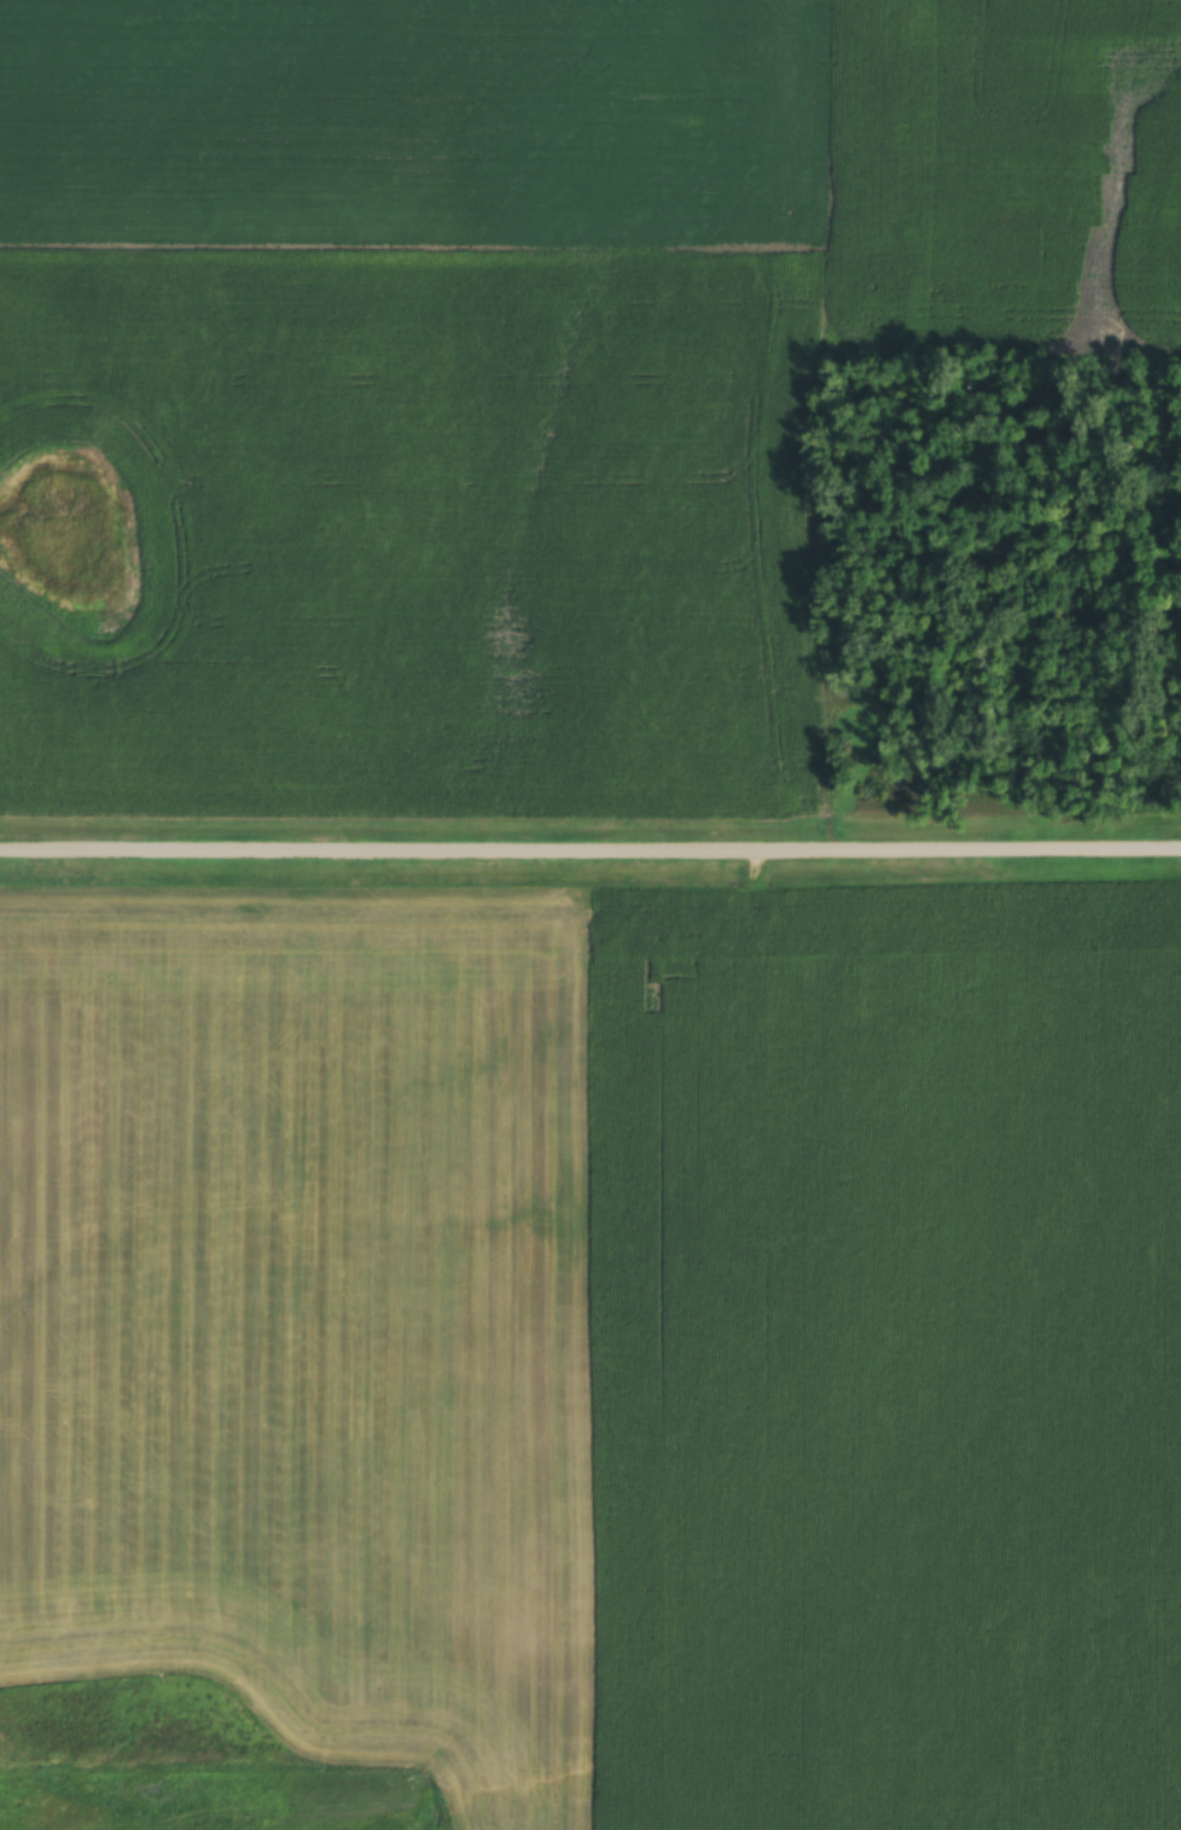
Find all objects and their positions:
road: (590, 846)

